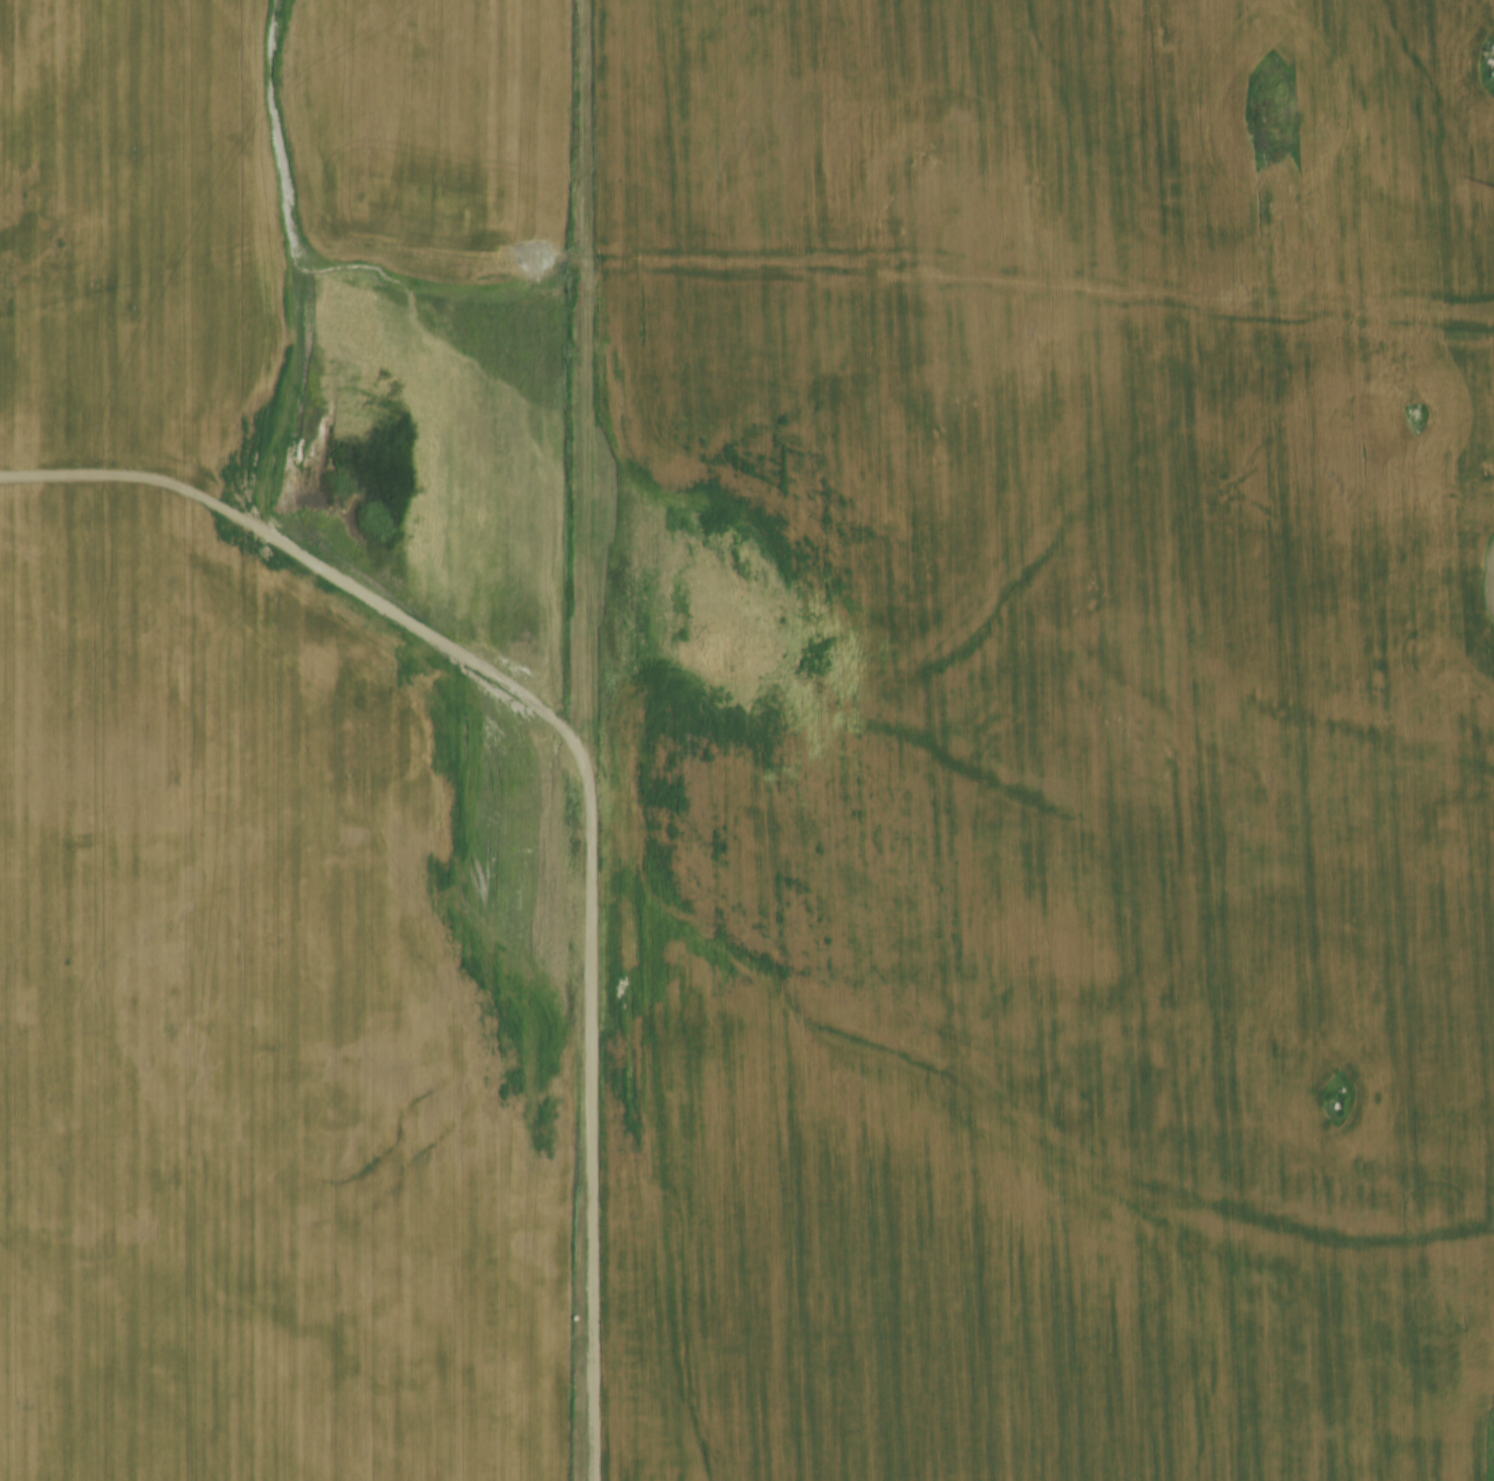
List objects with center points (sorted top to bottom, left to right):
road: (584, 740)

